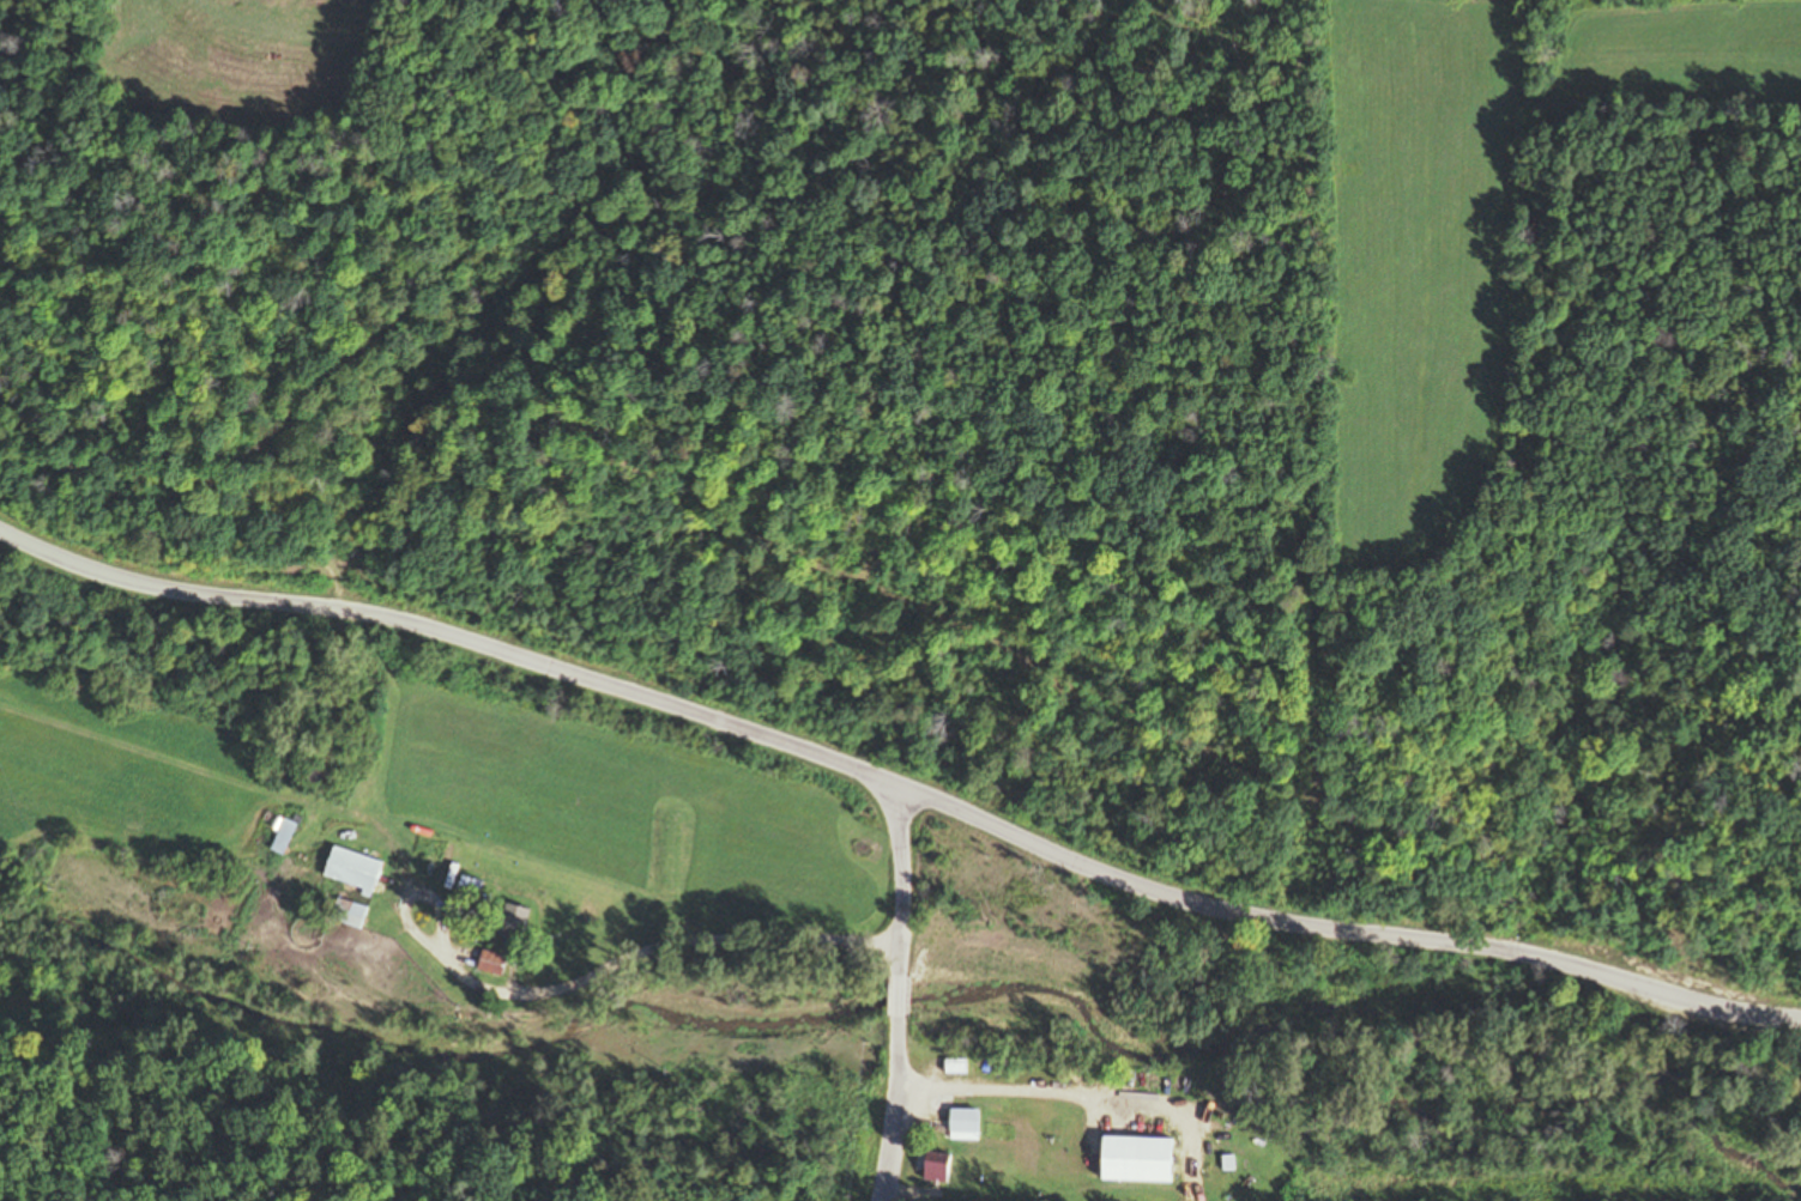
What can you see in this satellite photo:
road: (899, 789)
building: (283, 837)
building: (351, 869)
building: (346, 912)
building: (512, 922)
building: (491, 963)
road: (900, 994)
road: (457, 995)
building: (962, 1126)
building: (935, 1167)
building: (1226, 1167)

